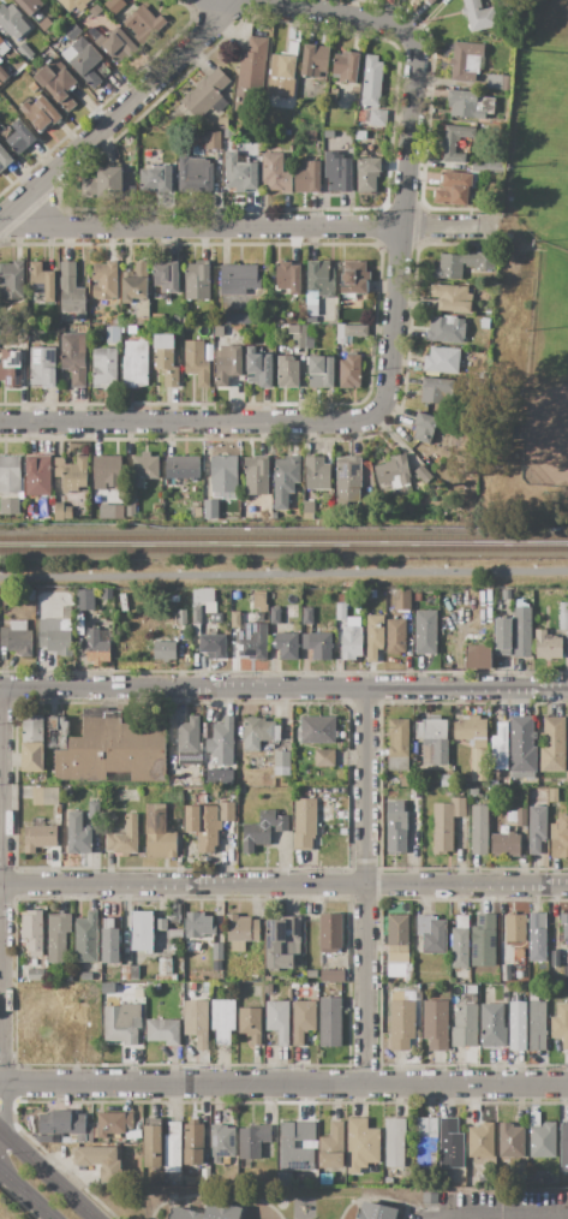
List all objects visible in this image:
building: (74, 4)
building: (29, 5)
building: (114, 5)
building: (95, 10)
road: (323, 12)
building: (479, 16)
building: (12, 20)
building: (46, 24)
building: (142, 25)
building: (73, 31)
building: (0, 36)
building: (116, 44)
building: (2, 48)
building: (25, 52)
building: (0, 60)
building: (315, 60)
building: (86, 61)
building: (466, 61)
building: (285, 63)
building: (346, 66)
building: (4, 73)
building: (252, 76)
building: (372, 82)
building: (0, 83)
building: (498, 83)
building: (58, 85)
building: (32, 87)
building: (207, 96)
building: (470, 105)
road: (119, 109)
building: (41, 113)
building: (377, 118)
building: (299, 121)
building: (222, 123)
building: (5, 132)
building: (287, 132)
building: (161, 136)
building: (311, 136)
building: (357, 136)
building: (20, 137)
building: (210, 138)
building: (455, 142)
park: (542, 149)
building: (5, 159)
building: (339, 171)
building: (370, 171)
building: (240, 173)
building: (275, 173)
building: (155, 174)
building: (195, 176)
building: (307, 177)
building: (103, 184)
building: (455, 189)
road: (204, 225)
road: (442, 227)
road: (400, 237)
building: (461, 264)
building: (167, 276)
building: (354, 276)
building: (288, 278)
building: (321, 278)
building: (238, 279)
building: (12, 280)
building: (106, 280)
building: (197, 280)
building: (42, 281)
building: (136, 284)
park: (532, 290)
building: (71, 292)
building: (348, 297)
building: (452, 298)
building: (311, 305)
building: (488, 313)
building: (157, 319)
building: (239, 319)
building: (185, 321)
building: (61, 328)
building: (131, 329)
building: (447, 329)
building: (219, 331)
building: (351, 333)
building: (113, 334)
building: (297, 335)
building: (310, 337)
park: (556, 339)
building: (165, 341)
building: (73, 357)
building: (442, 359)
building: (196, 362)
building: (136, 364)
building: (228, 364)
building: (167, 365)
building: (43, 367)
building: (11, 368)
building: (104, 368)
building: (258, 368)
building: (287, 371)
building: (321, 371)
building: (351, 371)
building: (436, 392)
park: (544, 394)
road: (175, 424)
building: (424, 427)
building: (58, 466)
building: (183, 468)
building: (143, 469)
building: (107, 472)
building: (391, 472)
building: (223, 474)
building: (316, 474)
building: (10, 475)
building: (37, 475)
building: (74, 475)
building: (256, 475)
building: (423, 475)
building: (348, 478)
building: (285, 480)
building: (56, 484)
building: (131, 498)
building: (52, 499)
building: (10, 506)
building: (208, 506)
building: (307, 507)
building: (131, 509)
building: (196, 509)
building: (156, 510)
building: (119, 511)
building: (61, 512)
building: (47, 515)
building: (307, 516)
railway: (283, 541)
railway: (283, 551)
park: (287, 572)
road: (283, 573)
building: (107, 594)
building: (516, 594)
building: (31, 595)
building: (235, 595)
building: (507, 595)
building: (418, 597)
building: (342, 599)
building: (84, 600)
building: (402, 600)
building: (259, 601)
building: (482, 602)
building: (500, 608)
building: (341, 611)
building: (274, 616)
building: (307, 617)
building: (563, 617)
building: (181, 618)
building: (217, 618)
building: (235, 620)
building: (477, 623)
building: (488, 623)
building: (522, 629)
building: (426, 632)
building: (56, 634)
building: (375, 636)
building: (395, 637)
building: (503, 637)
building: (17, 638)
building: (253, 641)
building: (352, 642)
building: (318, 644)
building: (97, 646)
building: (213, 646)
building: (287, 646)
building: (548, 646)
building: (165, 650)
building: (478, 658)
road: (283, 688)
building: (317, 730)
building: (472, 731)
building: (259, 732)
building: (189, 736)
building: (434, 738)
building: (32, 743)
building: (222, 743)
building: (552, 744)
building: (399, 745)
building: (107, 748)
building: (500, 748)
building: (521, 748)
building: (567, 751)
building: (324, 759)
building: (281, 763)
building: (477, 763)
building: (219, 777)
building: (446, 781)
building: (406, 783)
building: (473, 792)
building: (453, 793)
building: (542, 795)
building: (554, 795)
building: (391, 796)
building: (47, 797)
building: (95, 810)
building: (173, 810)
building: (521, 817)
building: (208, 823)
building: (304, 823)
building: (446, 825)
building: (396, 828)
building: (536, 828)
building: (262, 829)
building: (479, 829)
building: (343, 832)
building: (77, 834)
building: (159, 834)
building: (560, 837)
building: (40, 838)
building: (125, 838)
building: (506, 845)
road: (283, 884)
road: (0, 885)
road: (365, 886)
building: (175, 912)
building: (161, 924)
building: (198, 924)
building: (564, 926)
building: (515, 928)
building: (32, 930)
building: (140, 930)
building: (241, 932)
building: (175, 933)
building: (330, 933)
building: (432, 933)
building: (59, 936)
building: (85, 938)
building: (537, 938)
building: (109, 941)
building: (484, 941)
building: (282, 943)
building: (460, 943)
building: (173, 947)
building: (397, 949)
building: (217, 951)
building: (555, 959)
building: (166, 971)
building: (125, 973)
building: (133, 974)
building: (36, 975)
building: (519, 975)
building: (67, 976)
building: (333, 976)
building: (86, 977)
building: (268, 980)
building: (537, 980)
building: (151, 986)
building: (491, 987)
building: (268, 988)
building: (108, 989)
building: (402, 1018)
building: (223, 1019)
building: (277, 1021)
building: (303, 1021)
building: (196, 1022)
building: (330, 1022)
building: (122, 1023)
building: (251, 1024)
building: (436, 1024)
building: (561, 1024)
building: (492, 1025)
building: (465, 1027)
building: (518, 1027)
building: (537, 1027)
building: (163, 1031)
road: (283, 1084)
building: (113, 1123)
building: (59, 1125)
building: (542, 1137)
building: (482, 1141)
building: (563, 1141)
building: (252, 1142)
building: (426, 1142)
building: (512, 1142)
building: (153, 1143)
building: (193, 1143)
building: (222, 1143)
building: (287, 1144)
building: (361, 1144)
building: (395, 1144)
building: (450, 1144)
building: (333, 1147)
building: (173, 1148)
building: (100, 1161)
road: (47, 1173)
building: (283, 1179)
building: (325, 1179)
road: (25, 1195)
building: (431, 1199)
parking lot: (495, 1207)
building: (221, 1212)
building: (377, 1212)
building: (185, 1214)
road: (513, 1215)

